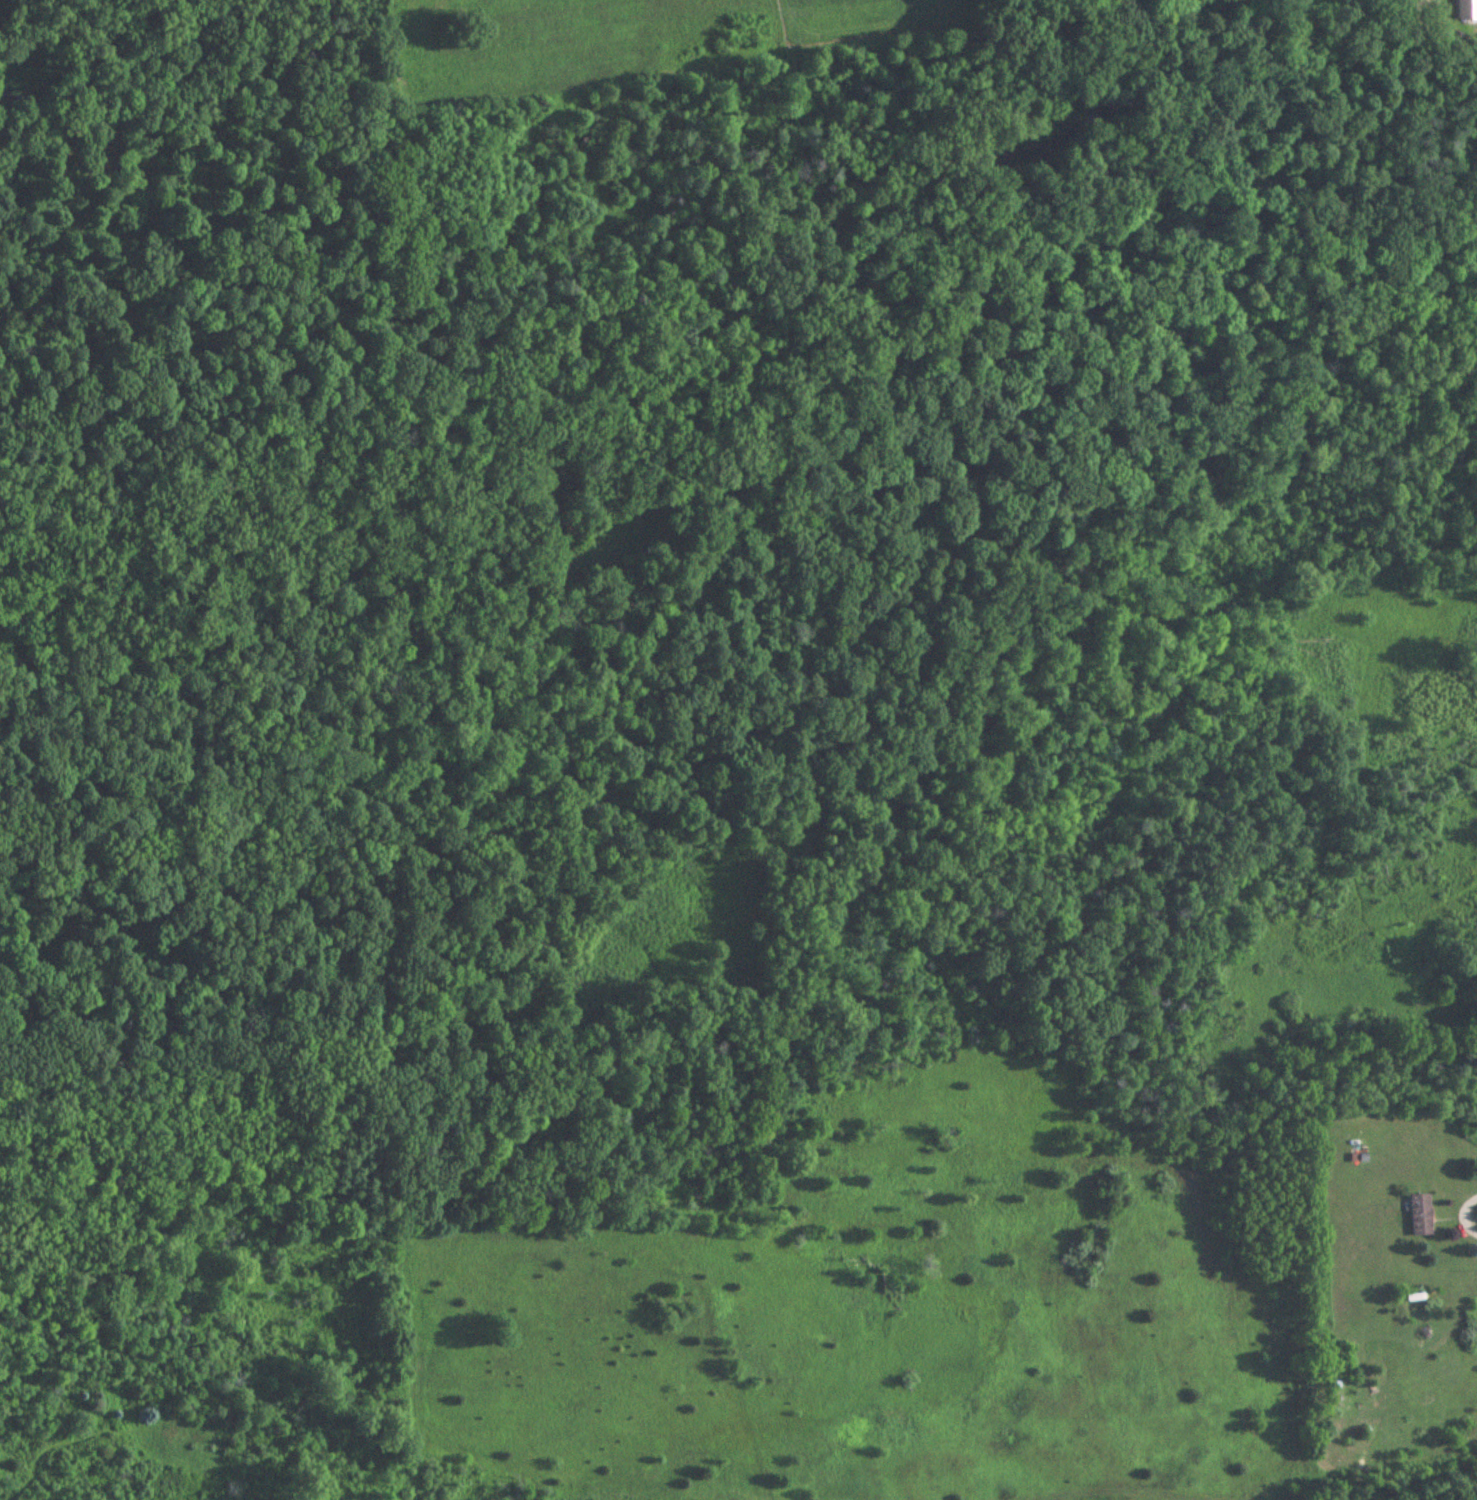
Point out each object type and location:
road: (1466, 1213)
building: (1421, 1215)

